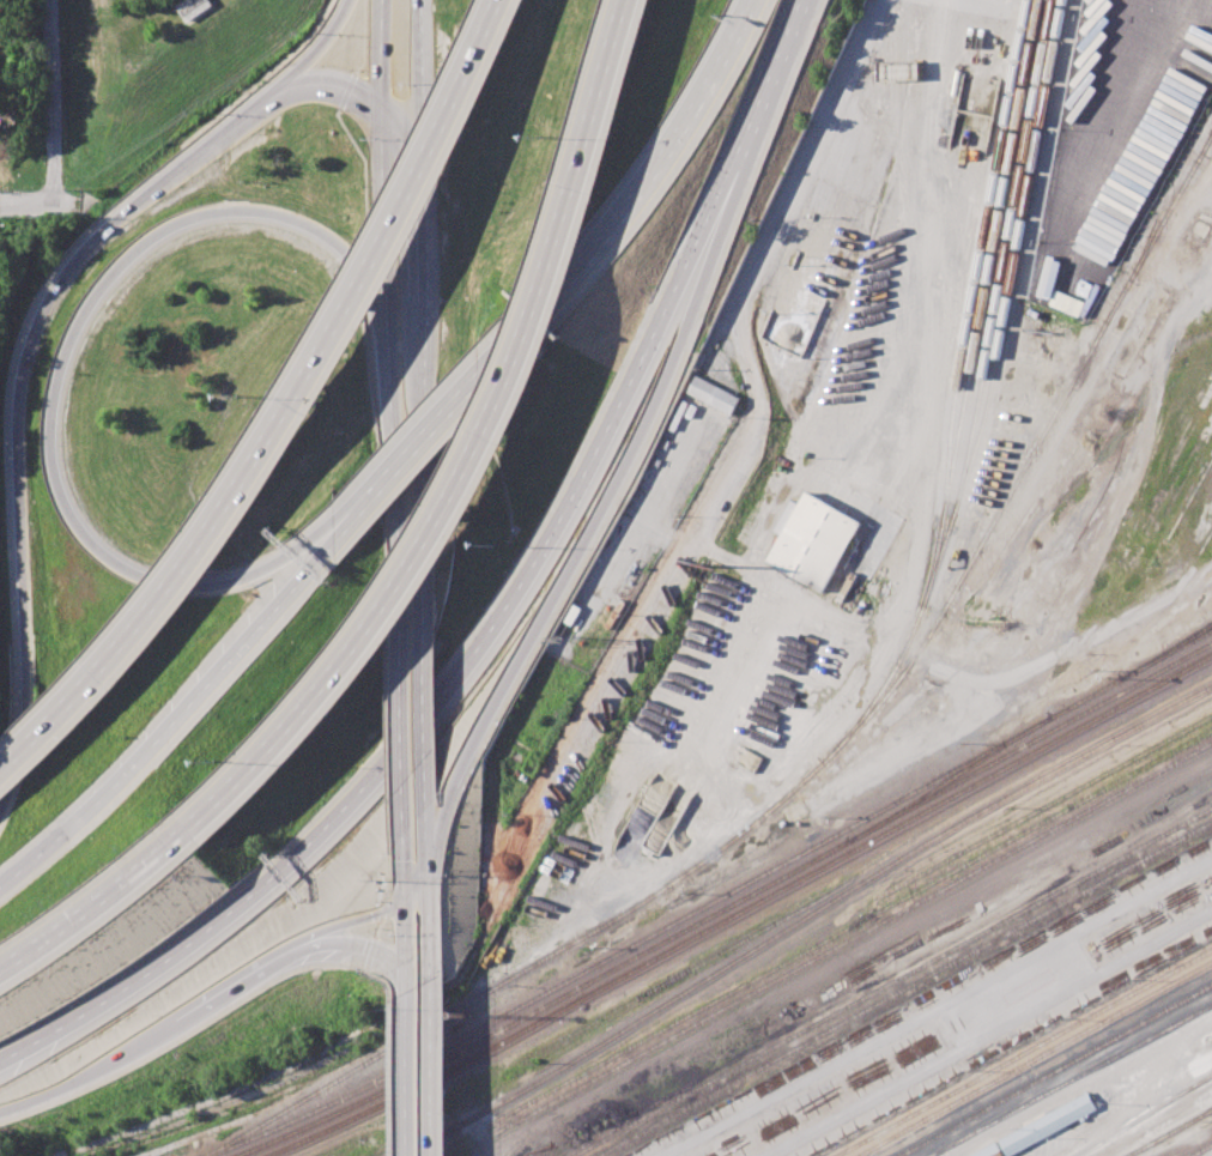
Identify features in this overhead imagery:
building: (192, 7)
road: (362, 37)
road: (384, 52)
road: (419, 66)
building: (896, 71)
park: (158, 78)
road: (333, 90)
road: (346, 90)
road: (51, 98)
road: (696, 104)
road: (402, 117)
road: (753, 120)
railway: (1207, 140)
road: (362, 177)
road: (25, 202)
road: (388, 219)
road: (339, 255)
railway: (978, 260)
railway: (1004, 260)
road: (757, 270)
road: (1204, 292)
railway: (982, 298)
road: (28, 341)
road: (60, 352)
road: (934, 357)
road: (420, 368)
road: (491, 368)
building: (711, 394)
railway: (988, 395)
road: (291, 407)
road: (375, 446)
road: (471, 464)
road: (395, 480)
road: (335, 541)
building: (814, 541)
road: (576, 555)
railway: (1168, 650)
road: (953, 674)
road: (425, 708)
road: (424, 714)
road: (169, 727)
road: (402, 733)
road: (388, 749)
railway: (823, 759)
railway: (949, 780)
railway: (1049, 806)
road: (430, 837)
road: (390, 878)
railway: (714, 901)
railway: (728, 906)
road: (86, 909)
road: (387, 910)
railway: (744, 910)
road: (383, 912)
road: (406, 921)
railway: (802, 921)
railway: (858, 922)
road: (431, 925)
road: (380, 928)
road: (370, 944)
railway: (831, 950)
road: (372, 952)
road: (244, 980)
road: (387, 981)
railway: (892, 982)
railway: (904, 988)
railway: (1165, 988)
railway: (1025, 1053)
railway: (1047, 1065)
railway: (1056, 1070)
road: (434, 1072)
road: (85, 1076)
road: (411, 1079)
road: (394, 1081)
railway: (1073, 1082)
railway: (988, 1084)
railway: (1147, 1116)
building: (1047, 1124)
railway: (1171, 1133)
railway: (1204, 1151)

